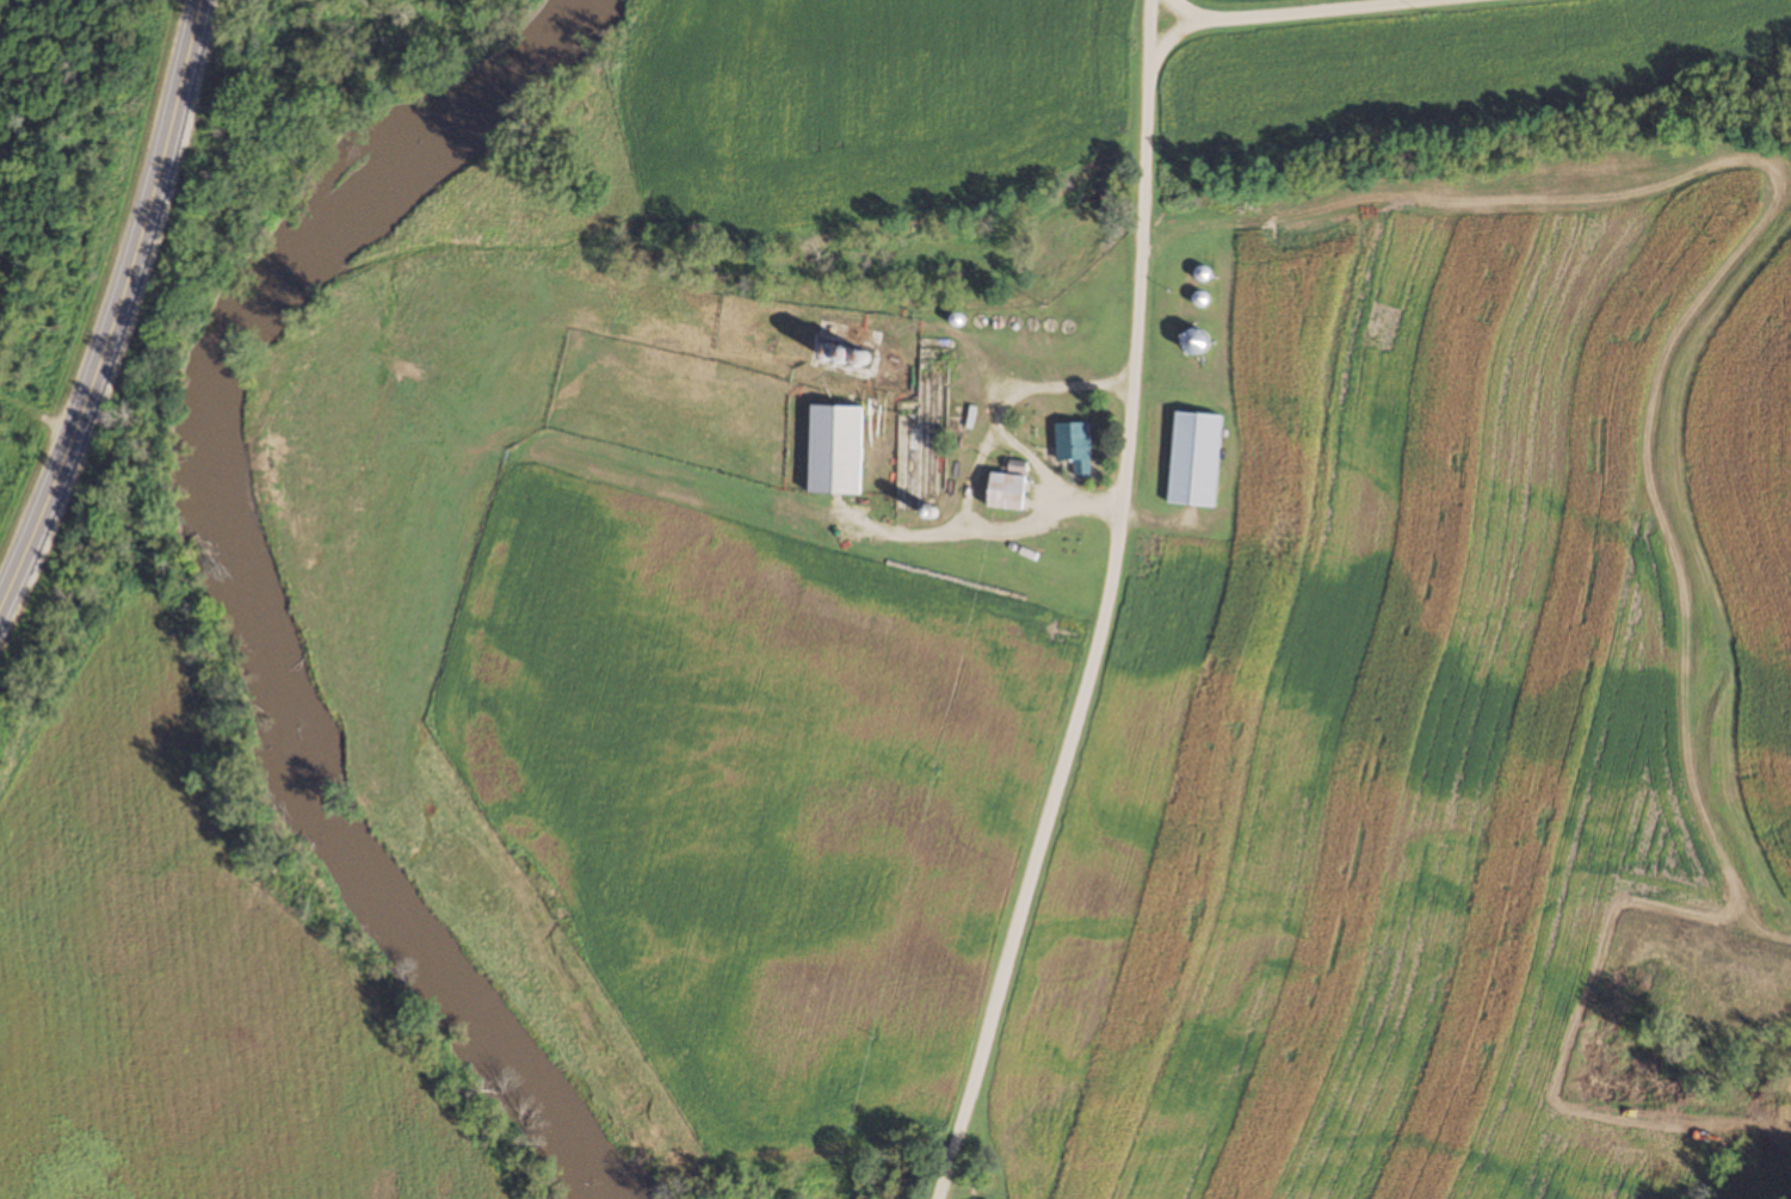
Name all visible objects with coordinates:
road: (1274, 12)
road: (118, 305)
building: (1192, 341)
building: (1073, 446)
building: (833, 450)
building: (1192, 459)
building: (1003, 492)
river: (236, 577)
road: (1099, 606)
road: (935, 1195)

